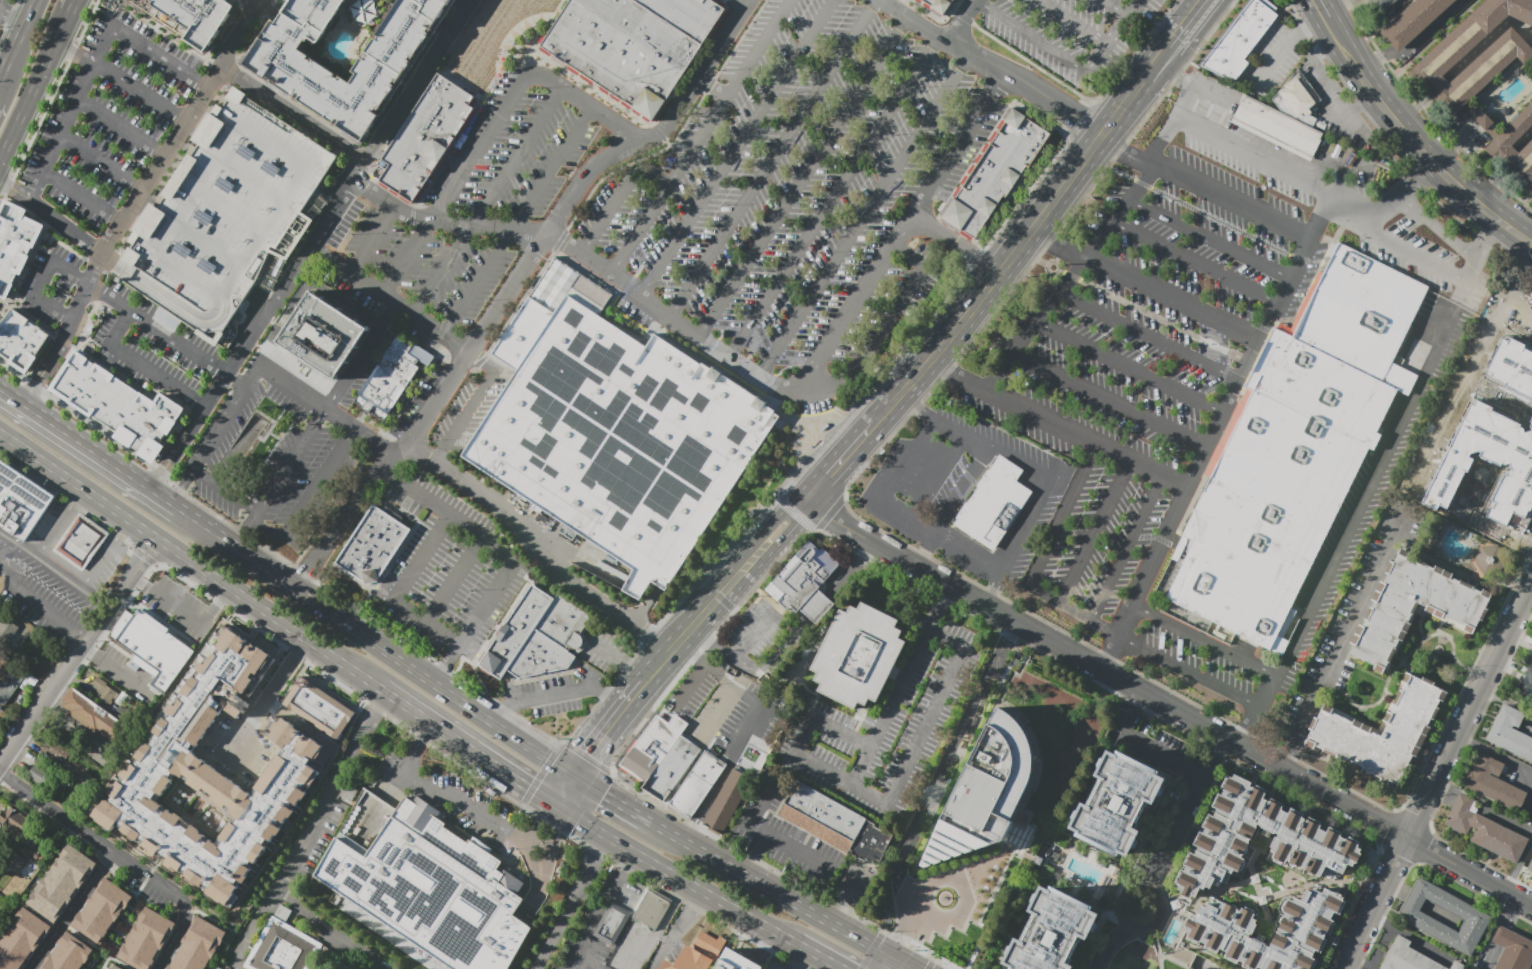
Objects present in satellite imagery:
road: (258, 0)
building: (1382, 4)
building: (938, 5)
road: (70, 6)
road: (268, 7)
road: (1115, 7)
road: (1317, 9)
road: (1336, 9)
parking lot: (6, 13)
road: (458, 13)
building: (688, 15)
road: (12, 16)
building: (188, 17)
road: (961, 20)
building: (1413, 21)
road: (1073, 22)
road: (443, 23)
road: (1189, 24)
parking lot: (354, 26)
road: (1308, 26)
road: (1203, 30)
parking lot: (1073, 34)
road: (1112, 35)
road: (537, 36)
road: (1031, 36)
road: (17, 37)
road: (1334, 38)
building: (1239, 40)
road: (1487, 41)
road: (1412, 46)
building: (621, 49)
road: (72, 53)
road: (1274, 59)
building: (1493, 60)
road: (156, 63)
road: (994, 64)
building: (294, 73)
road: (1189, 85)
road: (34, 86)
road: (714, 87)
road: (1437, 87)
road: (1328, 88)
road: (402, 89)
road: (137, 95)
building: (1298, 99)
road: (1413, 109)
road: (68, 113)
road: (292, 114)
road: (605, 114)
building: (1482, 118)
parking lot: (103, 119)
road: (380, 124)
building: (1277, 126)
building: (1026, 128)
road: (118, 130)
building: (429, 137)
road: (700, 139)
road: (1523, 140)
building: (1017, 142)
road: (1233, 147)
building: (1499, 147)
road: (737, 150)
building: (1008, 153)
road: (1508, 157)
road: (1430, 159)
road: (772, 160)
road: (99, 164)
building: (1000, 165)
road: (465, 169)
road: (804, 179)
building: (991, 179)
road: (149, 180)
road: (1486, 181)
road: (1408, 186)
road: (1206, 189)
road: (13, 190)
parking lot: (800, 192)
building: (981, 192)
road: (832, 198)
road: (618, 199)
road: (80, 200)
road: (490, 202)
building: (971, 207)
road: (1047, 209)
parking lot: (464, 211)
building: (224, 215)
road: (862, 216)
road: (519, 221)
building: (962, 221)
road: (69, 232)
road: (898, 234)
road: (1529, 234)
road: (314, 239)
road: (1487, 240)
road: (373, 241)
road: (1212, 241)
building: (15, 243)
road: (954, 245)
parking lot: (194, 257)
road: (579, 257)
road: (1197, 265)
road: (1464, 275)
road: (1071, 278)
road: (42, 279)
road: (515, 282)
road: (1145, 284)
road: (388, 298)
road: (17, 302)
road: (1518, 317)
parking lot: (112, 325)
road: (885, 326)
building: (324, 335)
road: (165, 336)
road: (1149, 336)
road: (1259, 339)
building: (21, 340)
parking lot: (1176, 353)
road: (138, 365)
building: (1512, 366)
road: (1130, 367)
road: (956, 377)
building: (387, 381)
road: (36, 383)
road: (908, 385)
parking lot: (417, 398)
road: (1109, 401)
road: (474, 403)
building: (116, 405)
road: (323, 407)
road: (325, 407)
road: (917, 407)
road: (883, 413)
road: (225, 416)
road: (1040, 416)
building: (618, 434)
building: (248, 436)
road: (860, 439)
parking lot: (284, 442)
road: (89, 445)
building: (1292, 453)
road: (41, 458)
building: (1455, 463)
road: (1140, 464)
road: (162, 468)
road: (1041, 470)
road: (826, 476)
road: (939, 477)
road: (54, 480)
road: (180, 484)
road: (889, 485)
road: (963, 488)
road: (224, 490)
parking lot: (968, 494)
road: (310, 500)
building: (21, 501)
road: (68, 501)
road: (106, 503)
building: (994, 503)
road: (800, 507)
road: (33, 513)
road: (60, 521)
road: (767, 526)
road: (1349, 527)
road: (142, 528)
road: (246, 528)
road: (1501, 533)
road: (16, 540)
road: (784, 540)
building: (80, 541)
road: (534, 547)
road: (1126, 547)
building: (369, 548)
road: (970, 549)
road: (926, 550)
road: (106, 553)
road: (503, 554)
building: (1489, 560)
road: (192, 561)
road: (750, 562)
road: (65, 564)
road: (55, 568)
parking lot: (451, 568)
road: (852, 570)
road: (1144, 577)
road: (455, 580)
building: (1, 582)
building: (804, 582)
road: (730, 585)
road: (994, 587)
road: (401, 591)
road: (1043, 594)
road: (944, 601)
road: (39, 606)
building: (1413, 606)
road: (817, 607)
road: (185, 612)
road: (334, 614)
road: (1088, 618)
building: (522, 622)
building: (563, 623)
road: (1420, 625)
road: (1441, 625)
building: (6, 629)
parking lot: (757, 629)
road: (1349, 629)
road: (752, 634)
road: (305, 637)
road: (1202, 639)
road: (680, 641)
road: (712, 642)
building: (152, 645)
parking lot: (602, 648)
road: (78, 650)
building: (547, 654)
road: (772, 655)
building: (858, 655)
road: (1403, 660)
road: (1403, 662)
building: (494, 663)
road: (617, 663)
building: (521, 664)
road: (706, 665)
road: (115, 670)
road: (1104, 670)
road: (1187, 671)
building: (1528, 672)
building: (10, 685)
road: (682, 685)
road: (386, 689)
building: (104, 691)
parking lot: (555, 692)
road: (558, 692)
parking lot: (681, 692)
road: (269, 694)
road: (1389, 694)
road: (895, 699)
road: (1506, 700)
building: (310, 702)
road: (1470, 710)
building: (91, 714)
road: (717, 714)
building: (337, 720)
parking lot: (740, 721)
road: (824, 722)
parking lot: (885, 725)
road: (608, 730)
building: (1379, 731)
building: (664, 733)
building: (1510, 733)
road: (472, 747)
road: (532, 749)
building: (57, 751)
road: (952, 752)
road: (1159, 752)
road: (913, 754)
road: (1289, 754)
traffic signals: (589, 755)
road: (1502, 756)
road: (731, 759)
building: (671, 768)
building: (212, 771)
building: (43, 775)
building: (1496, 783)
building: (697, 784)
traffic signals: (527, 785)
road: (589, 786)
road: (439, 791)
road: (566, 791)
building: (985, 791)
traffic signals: (604, 795)
parking lot: (454, 799)
building: (727, 801)
building: (1116, 803)
road: (1488, 804)
road: (624, 806)
road: (757, 807)
road: (548, 811)
road: (557, 816)
building: (822, 816)
building: (14, 819)
road: (308, 828)
building: (1484, 829)
road: (532, 830)
road: (666, 830)
traffic signals: (557, 833)
road: (95, 839)
building: (55, 840)
road: (613, 840)
parking lot: (796, 842)
building: (870, 843)
road: (552, 846)
road: (753, 851)
building: (36, 853)
road: (810, 855)
road: (1252, 856)
road: (624, 858)
building: (13, 860)
building: (82, 860)
road: (529, 860)
road: (1157, 863)
road: (1518, 865)
building: (1530, 867)
building: (1206, 871)
road: (1469, 872)
road: (543, 879)
road: (964, 889)
road: (1395, 889)
building: (429, 891)
road: (1265, 891)
road: (1198, 895)
road: (528, 900)
road: (1415, 900)
road: (790, 901)
road: (842, 901)
road: (906, 902)
road: (572, 903)
road: (1373, 903)
road: (532, 908)
road: (734, 908)
road: (70, 909)
road: (670, 909)
building: (101, 910)
building: (650, 910)
road: (1152, 911)
road: (1440, 913)
road: (1265, 914)
road: (1511, 914)
building: (1474, 917)
road: (592, 918)
building: (611, 924)
road: (1121, 927)
road: (676, 929)
road: (906, 931)
building: (1053, 931)
traffic signals: (905, 935)
road: (319, 936)
road: (1409, 936)
road: (1501, 936)
road: (662, 937)
building: (20, 938)
building: (146, 939)
road: (171, 939)
building: (199, 946)
building: (283, 948)
road: (636, 949)
building: (1512, 950)
building: (70, 953)
road: (590, 953)
building: (698, 953)
road: (819, 956)
road: (801, 957)
building: (1407, 957)
road: (1491, 957)
road: (1360, 962)
building: (737, 964)
road: (889, 964)
road: (901, 964)
building: (117, 965)
building: (1457, 965)
building: (343, 967)
road: (796, 967)
road: (835, 967)
road: (1207, 968)
road: (1341, 968)

